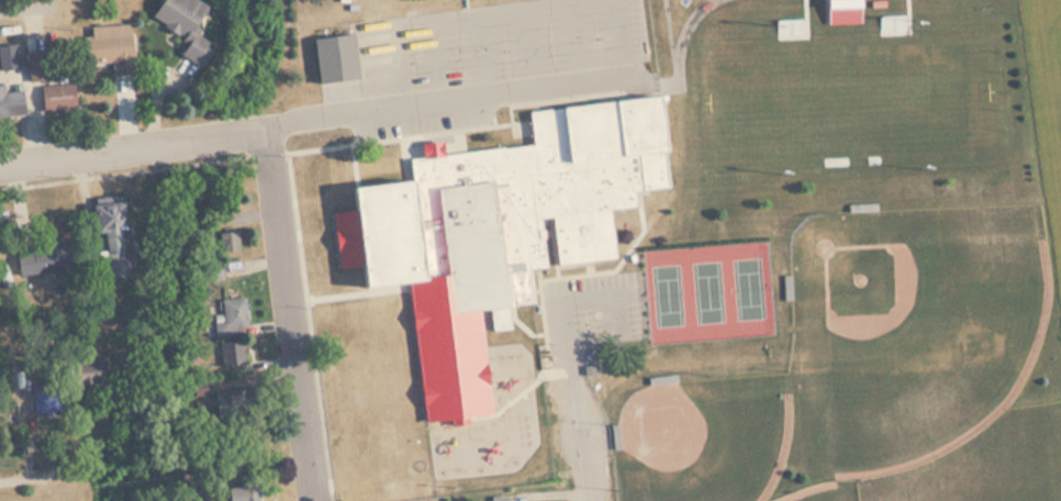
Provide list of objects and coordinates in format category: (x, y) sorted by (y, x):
road: (19, 2)
building: (181, 23)
road: (509, 27)
road: (681, 33)
parking lot: (490, 37)
building: (110, 51)
building: (8, 55)
building: (333, 57)
building: (57, 97)
park: (859, 97)
building: (11, 101)
road: (339, 120)
road: (354, 149)
road: (124, 172)
road: (297, 212)
building: (502, 218)
building: (111, 236)
building: (226, 241)
building: (44, 258)
building: (212, 269)
park: (708, 290)
road: (357, 291)
road: (289, 314)
building: (233, 316)
park: (909, 326)
building: (234, 352)
road: (574, 369)
building: (83, 376)
park: (702, 437)
park: (985, 461)
road: (20, 476)
building: (245, 488)
park: (830, 489)
building: (496, 496)

